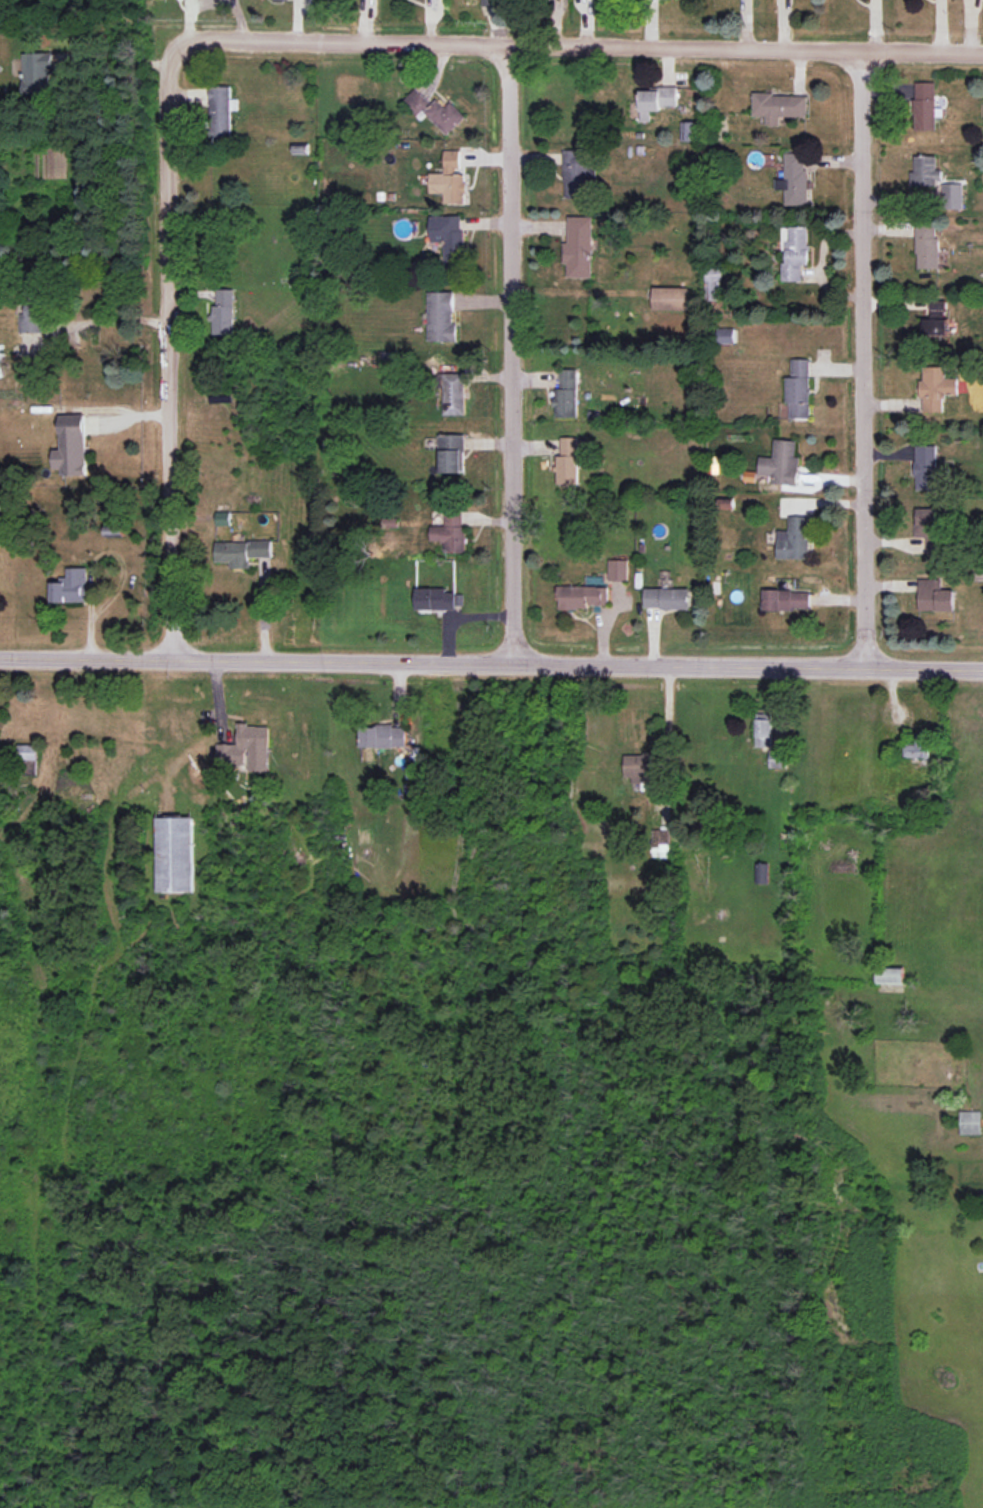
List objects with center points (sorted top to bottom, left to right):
building: (490, 3)
road: (581, 47)
building: (38, 73)
building: (657, 100)
building: (779, 106)
building: (924, 106)
building: (435, 110)
building: (221, 112)
building: (688, 131)
building: (924, 171)
building: (577, 173)
building: (450, 179)
building: (794, 179)
building: (952, 195)
building: (449, 238)
building: (926, 245)
building: (579, 247)
building: (794, 251)
building: (713, 284)
building: (670, 298)
building: (223, 312)
building: (441, 317)
building: (32, 320)
road: (109, 320)
building: (935, 321)
road: (168, 347)
road: (508, 353)
road: (864, 357)
building: (2, 364)
building: (936, 387)
building: (799, 388)
building: (453, 393)
building: (566, 394)
building: (72, 446)
building: (452, 453)
building: (570, 459)
building: (781, 463)
building: (926, 467)
building: (0, 501)
building: (223, 518)
building: (928, 528)
building: (451, 531)
building: (794, 539)
building: (242, 552)
building: (618, 569)
building: (71, 586)
building: (583, 596)
building: (934, 596)
building: (667, 598)
building: (437, 599)
building: (786, 600)
road: (491, 660)
road: (668, 727)
building: (763, 730)
building: (383, 736)
building: (917, 746)
building: (246, 749)
building: (26, 752)
building: (777, 758)
building: (28, 767)
building: (639, 767)
building: (660, 842)
building: (174, 854)
building: (762, 873)
building: (890, 975)
building: (970, 1122)

